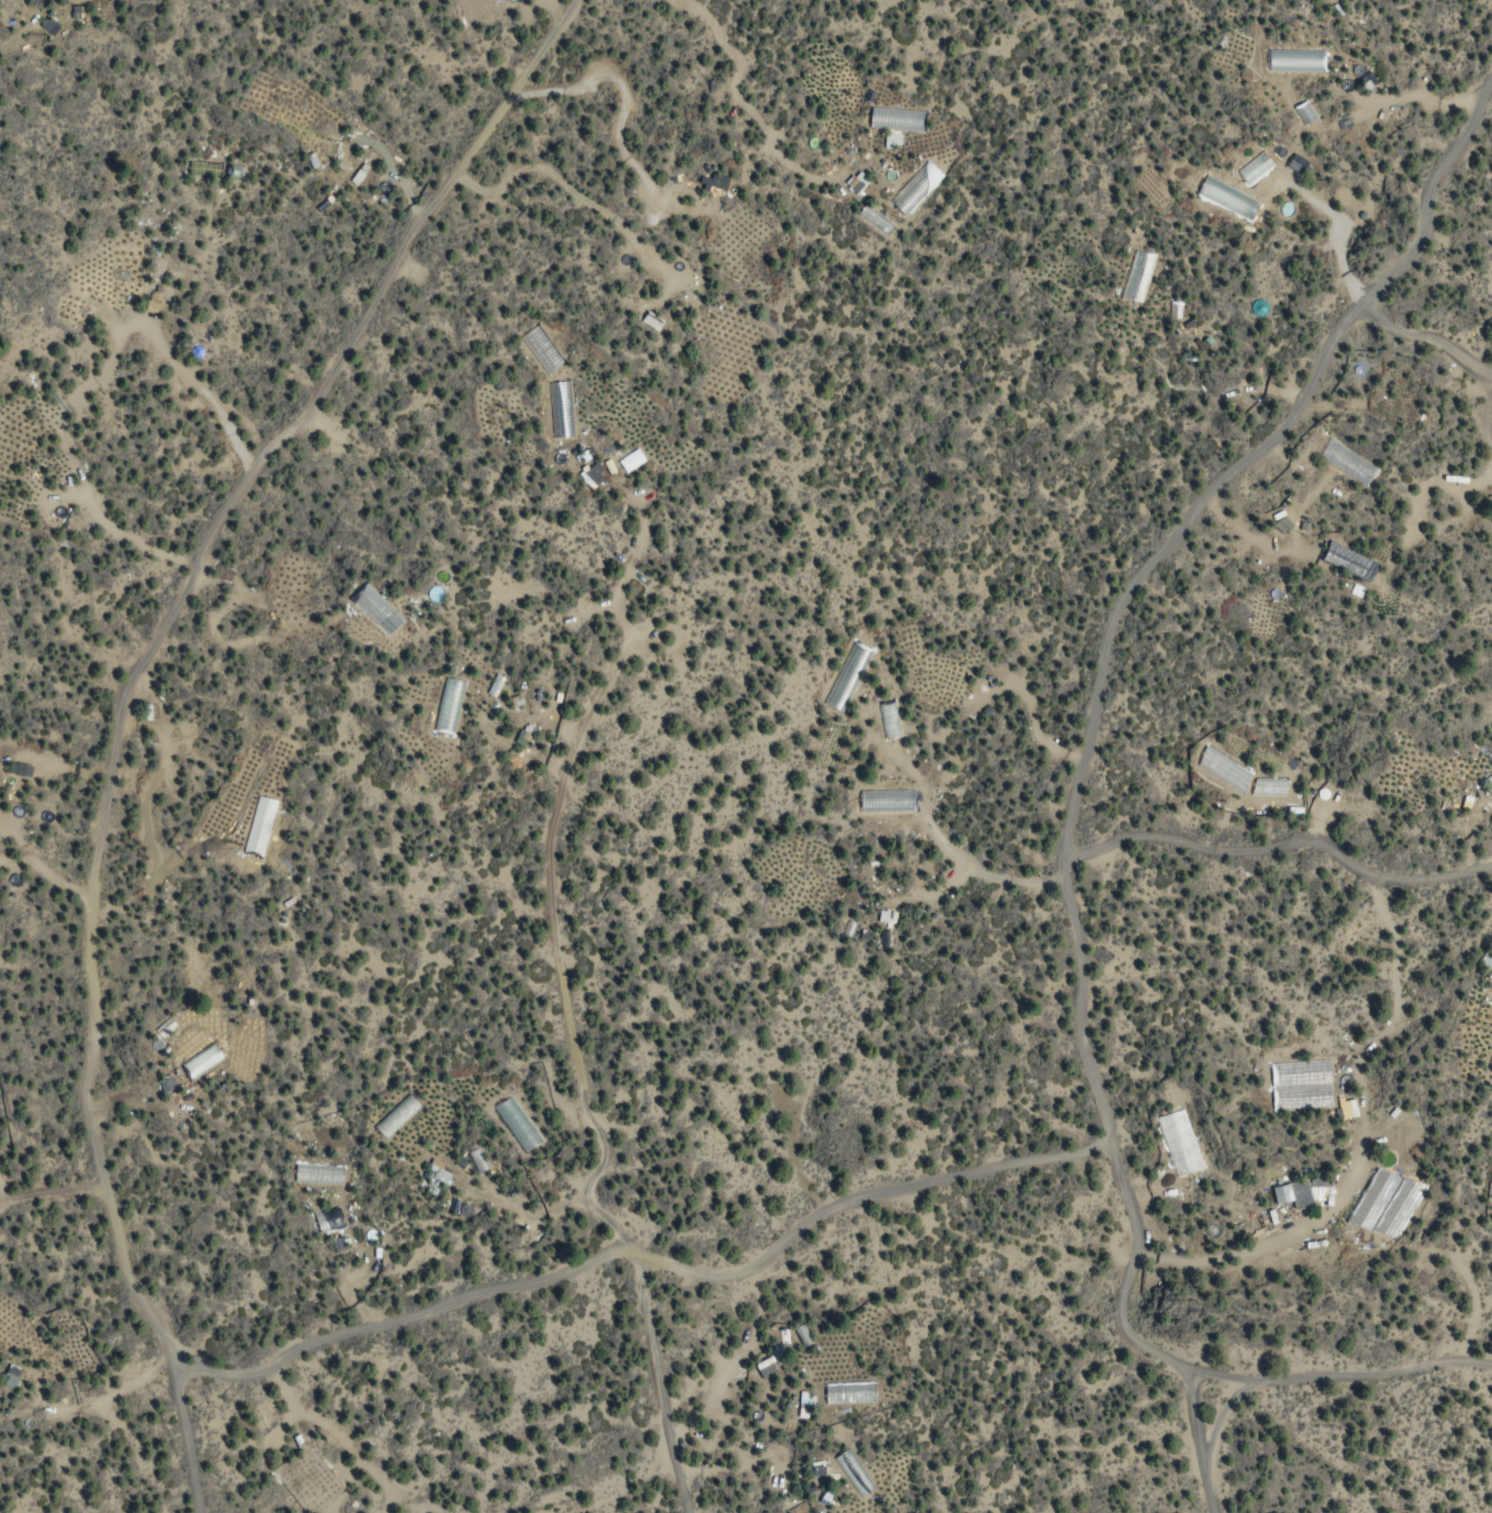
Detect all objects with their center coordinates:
building: (50, 26)
building: (358, 173)
building: (855, 185)
building: (158, 298)
building: (651, 321)
road: (1426, 340)
road: (1387, 416)
building: (448, 696)
road: (121, 700)
building: (889, 719)
road: (1081, 744)
building: (887, 800)
road: (1279, 842)
building: (885, 918)
road: (572, 1078)
building: (165, 1083)
building: (477, 1160)
building: (439, 1171)
building: (318, 1174)
road: (47, 1189)
building: (1278, 1193)
building: (1303, 1194)
building: (328, 1219)
road: (644, 1259)
building: (765, 1367)
road: (1334, 1374)
building: (11, 1377)
building: (818, 1469)
building: (854, 1472)
building: (825, 1498)
building: (801, 1507)

